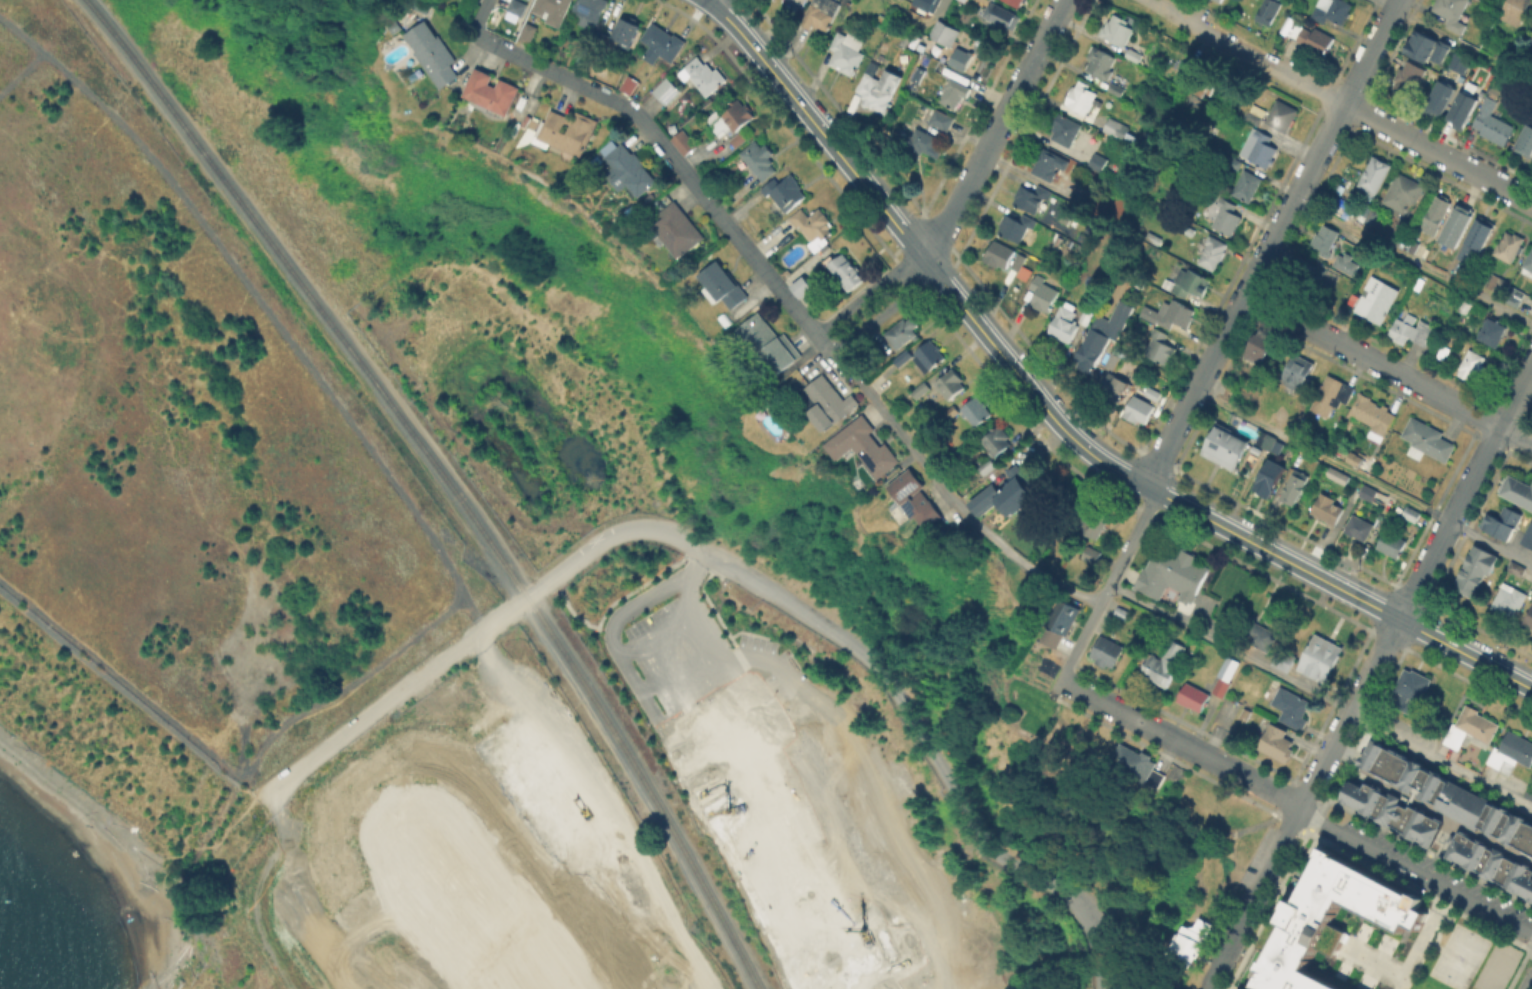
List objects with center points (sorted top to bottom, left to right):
building: (1218, 1)
building: (799, 2)
building: (1018, 2)
building: (923, 3)
building: (518, 7)
building: (1333, 10)
building: (553, 11)
building: (1515, 11)
building: (590, 12)
building: (1269, 12)
building: (1453, 12)
building: (823, 13)
road: (903, 14)
road: (935, 14)
building: (1005, 17)
building: (1118, 29)
road: (1277, 30)
building: (627, 31)
building: (529, 33)
building: (945, 33)
building: (908, 38)
building: (1311, 39)
building: (604, 42)
building: (663, 43)
road: (1463, 44)
building: (1531, 45)
building: (1421, 47)
road: (1245, 51)
building: (848, 52)
building: (433, 54)
building: (1441, 54)
building: (1135, 56)
building: (958, 58)
building: (1101, 62)
building: (1460, 64)
road: (19, 72)
building: (704, 75)
building: (1410, 79)
building: (915, 83)
building: (630, 85)
building: (668, 90)
building: (879, 91)
building: (1117, 91)
building: (492, 92)
building: (956, 94)
building: (1082, 97)
building: (1442, 98)
building: (1464, 110)
building: (1256, 114)
building: (1283, 116)
building: (733, 118)
building: (943, 119)
building: (1493, 125)
building: (1116, 129)
building: (1065, 130)
road: (995, 131)
building: (566, 132)
building: (739, 139)
building: (923, 141)
building: (1526, 141)
building: (684, 142)
building: (1260, 148)
road: (1438, 152)
building: (759, 159)
building: (1234, 162)
building: (1049, 163)
building: (1100, 165)
building: (630, 171)
building: (1374, 178)
building: (1248, 186)
building: (1404, 192)
building: (785, 194)
building: (1034, 197)
building: (1437, 216)
building: (1228, 217)
building: (1376, 217)
building: (1458, 225)
building: (1016, 227)
building: (815, 228)
building: (679, 229)
building: (1326, 238)
building: (1404, 240)
road: (740, 241)
building: (1476, 241)
road: (1270, 243)
building: (1413, 246)
building: (1510, 247)
building: (1214, 253)
building: (1000, 255)
building: (1016, 260)
road: (1413, 260)
building: (1347, 264)
building: (1528, 265)
building: (845, 271)
building: (1308, 276)
building: (805, 280)
building: (1188, 282)
building: (1497, 284)
building: (724, 286)
road: (318, 292)
road: (867, 292)
building: (1044, 295)
building: (1515, 297)
building: (1377, 300)
building: (1466, 305)
road: (265, 306)
road: (885, 311)
building: (1171, 314)
building: (1086, 316)
building: (1064, 323)
building: (1412, 331)
building: (903, 332)
building: (1493, 332)
building: (1103, 336)
building: (769, 343)
building: (1259, 347)
building: (1161, 348)
building: (931, 354)
building: (1113, 360)
building: (1473, 366)
road: (1388, 369)
building: (1297, 372)
building: (950, 384)
building: (1115, 388)
building: (1332, 395)
building: (829, 402)
building: (1142, 405)
building: (976, 411)
building: (950, 412)
building: (1374, 416)
road: (1055, 420)
building: (1265, 440)
building: (996, 441)
building: (1428, 441)
building: (864, 447)
building: (1226, 448)
building: (987, 466)
building: (1338, 475)
road: (1363, 476)
railway: (445, 479)
building: (1268, 482)
building: (1293, 486)
building: (1517, 490)
building: (1369, 493)
building: (1007, 494)
building: (916, 499)
building: (1328, 509)
building: (1412, 513)
building: (1094, 523)
building: (1503, 523)
building: (1360, 528)
building: (1527, 535)
building: (1392, 544)
building: (1091, 554)
building: (1473, 568)
building: (1517, 568)
road: (1039, 573)
building: (1173, 575)
road: (1108, 586)
road: (1415, 586)
building: (1509, 600)
building: (1123, 613)
road: (504, 614)
building: (1527, 614)
building: (1059, 622)
road: (659, 629)
building: (1262, 637)
building: (1108, 652)
building: (1322, 658)
building: (1285, 659)
road: (679, 664)
road: (876, 664)
building: (1162, 664)
road: (627, 667)
building: (1226, 675)
road: (782, 680)
parking lot: (714, 682)
building: (1411, 688)
road: (1320, 695)
building: (1194, 697)
road: (700, 698)
building: (1292, 708)
road: (374, 714)
building: (1246, 714)
building: (1472, 730)
road: (723, 738)
road: (1180, 742)
building: (1277, 743)
building: (1512, 753)
building: (1136, 763)
road: (800, 766)
road: (232, 768)
road: (638, 792)
road: (611, 798)
building: (1444, 814)
road: (1414, 871)
road: (1442, 897)
road: (1251, 898)
building: (1325, 921)
road: (1441, 923)
road: (1488, 931)
building: (1195, 938)
road: (1431, 942)
road: (1415, 950)
park: (1459, 956)
park: (1459, 956)
road: (1371, 960)
park: (1496, 968)
road: (1530, 986)

